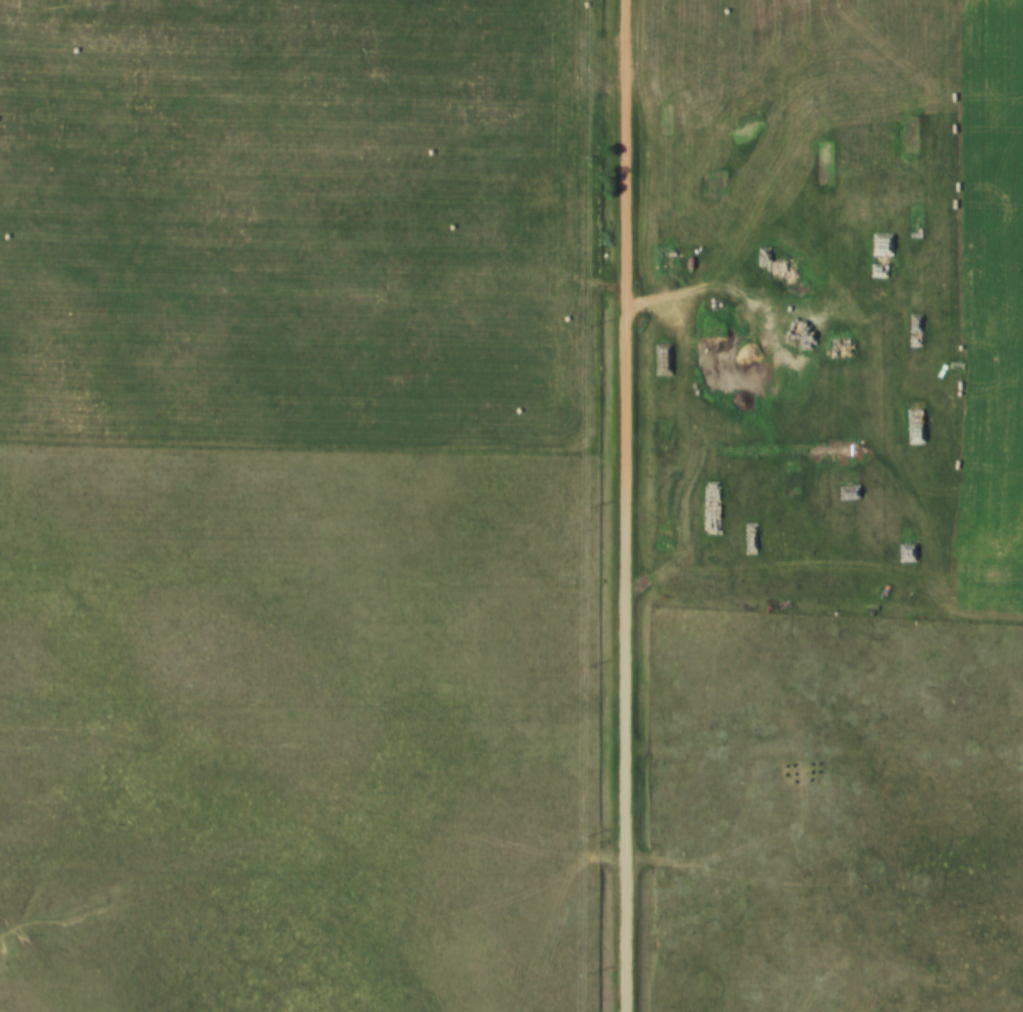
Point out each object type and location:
road: (711, 319)
road: (627, 506)
road: (564, 918)

